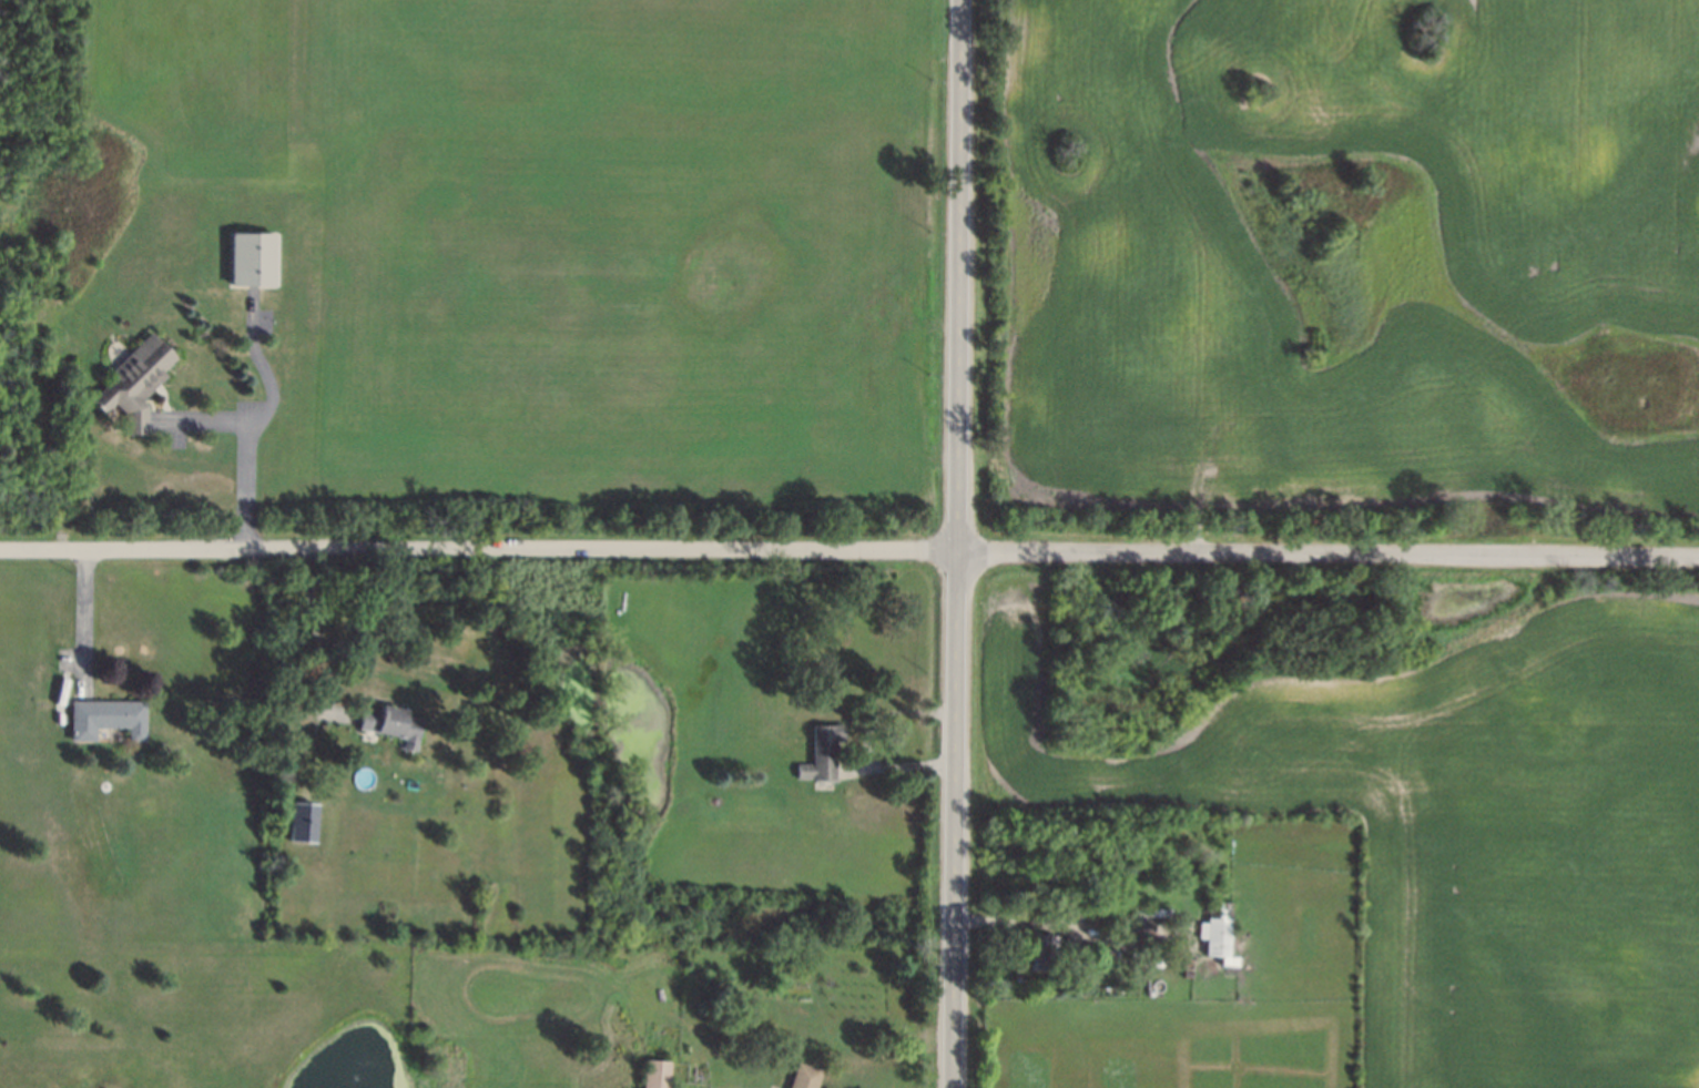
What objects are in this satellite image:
crop: (573, 230)
crop: (1356, 251)
building: (253, 261)
building: (135, 384)
road: (246, 448)
road: (956, 543)
road: (849, 549)
road: (84, 617)
building: (108, 719)
building: (391, 724)
road: (864, 741)
building: (822, 754)
building: (303, 822)
crop: (1457, 827)
building: (1218, 933)
building: (1038, 952)
building: (655, 1074)
building: (804, 1077)

